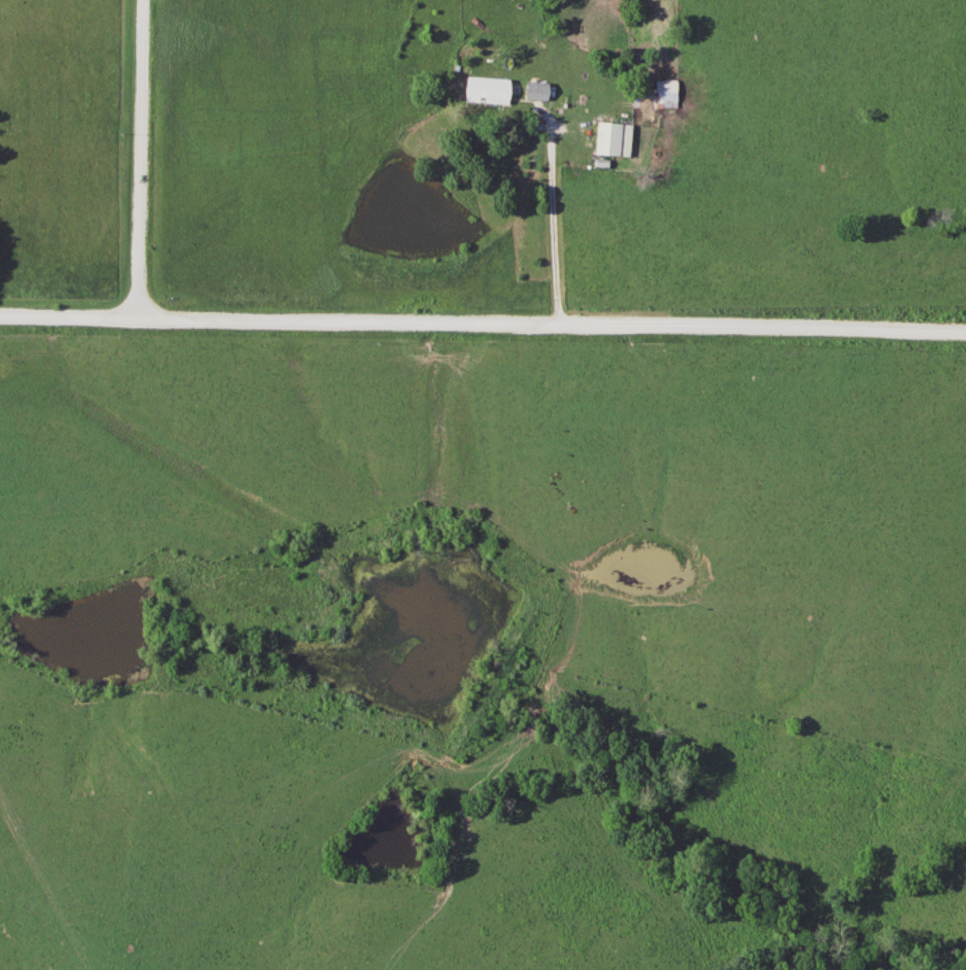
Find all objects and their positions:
building: (484, 90)
building: (534, 91)
building: (665, 94)
building: (610, 139)
road: (141, 161)
road: (553, 218)
road: (482, 325)

